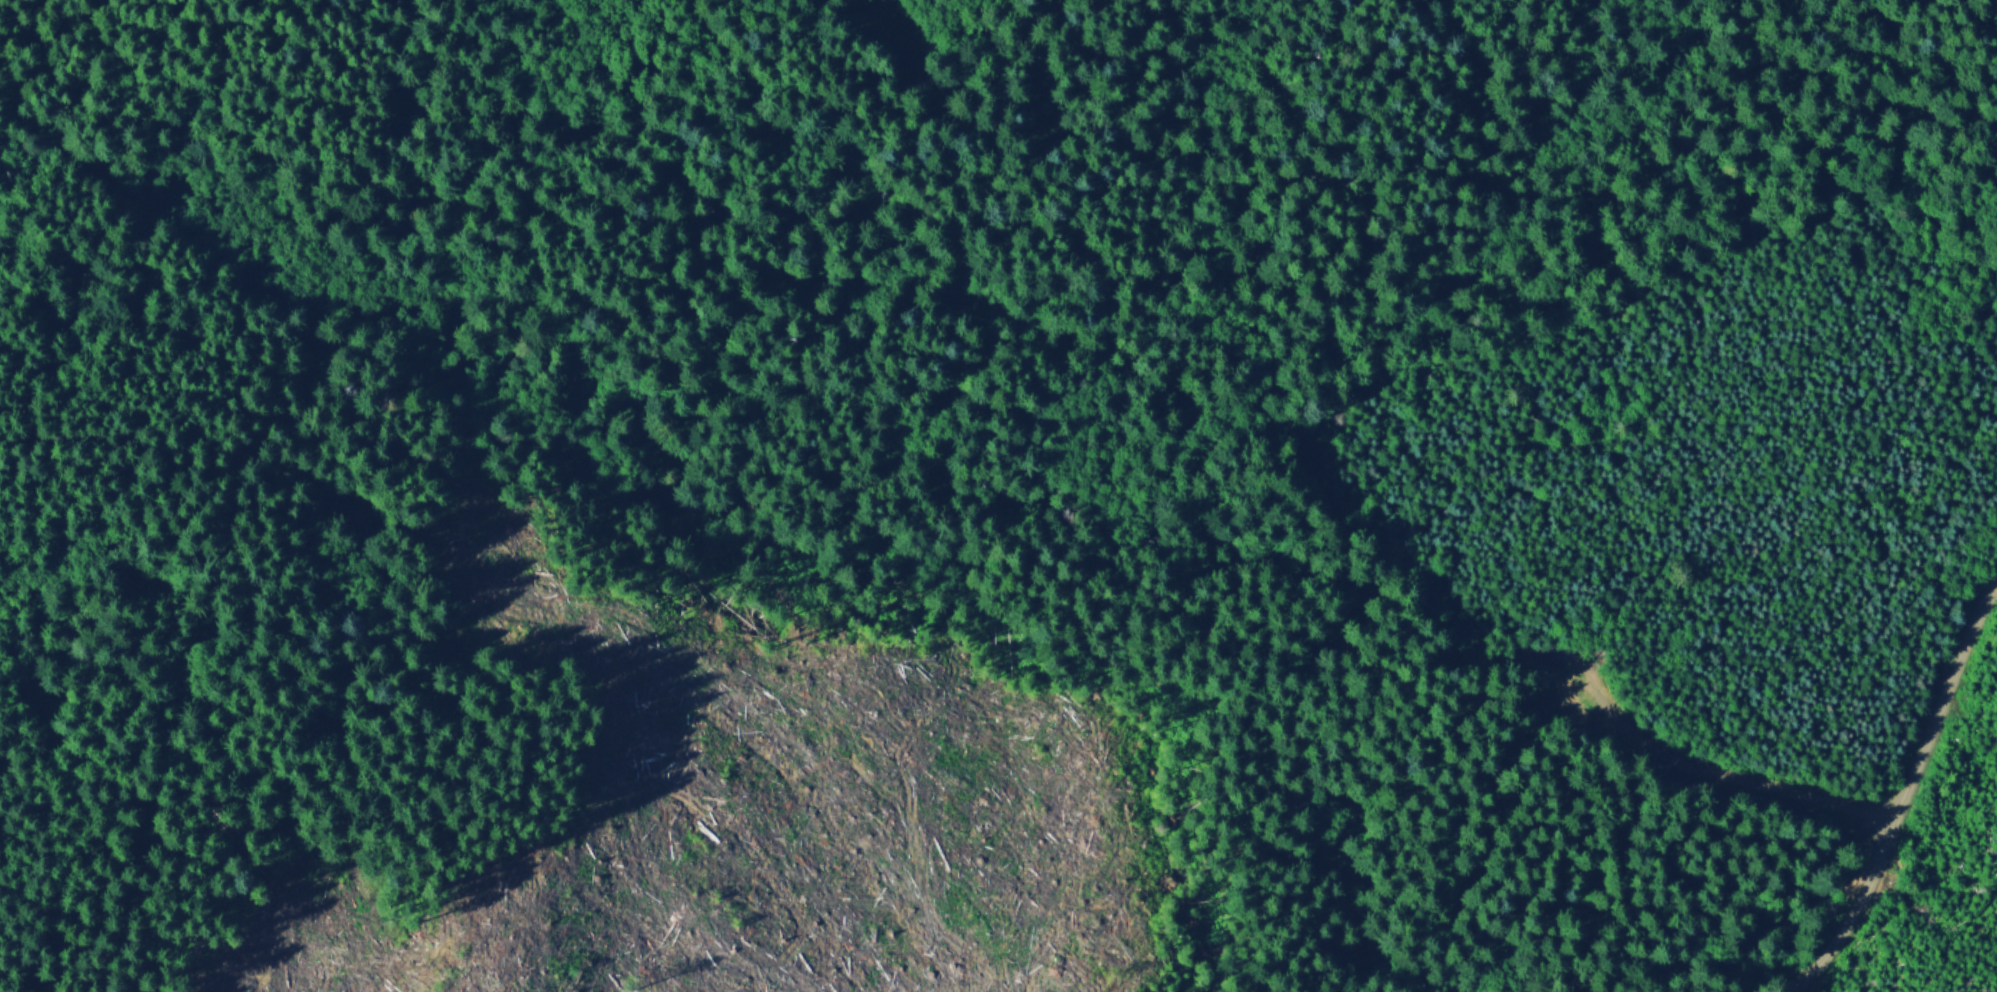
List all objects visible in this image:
road: (1905, 797)

